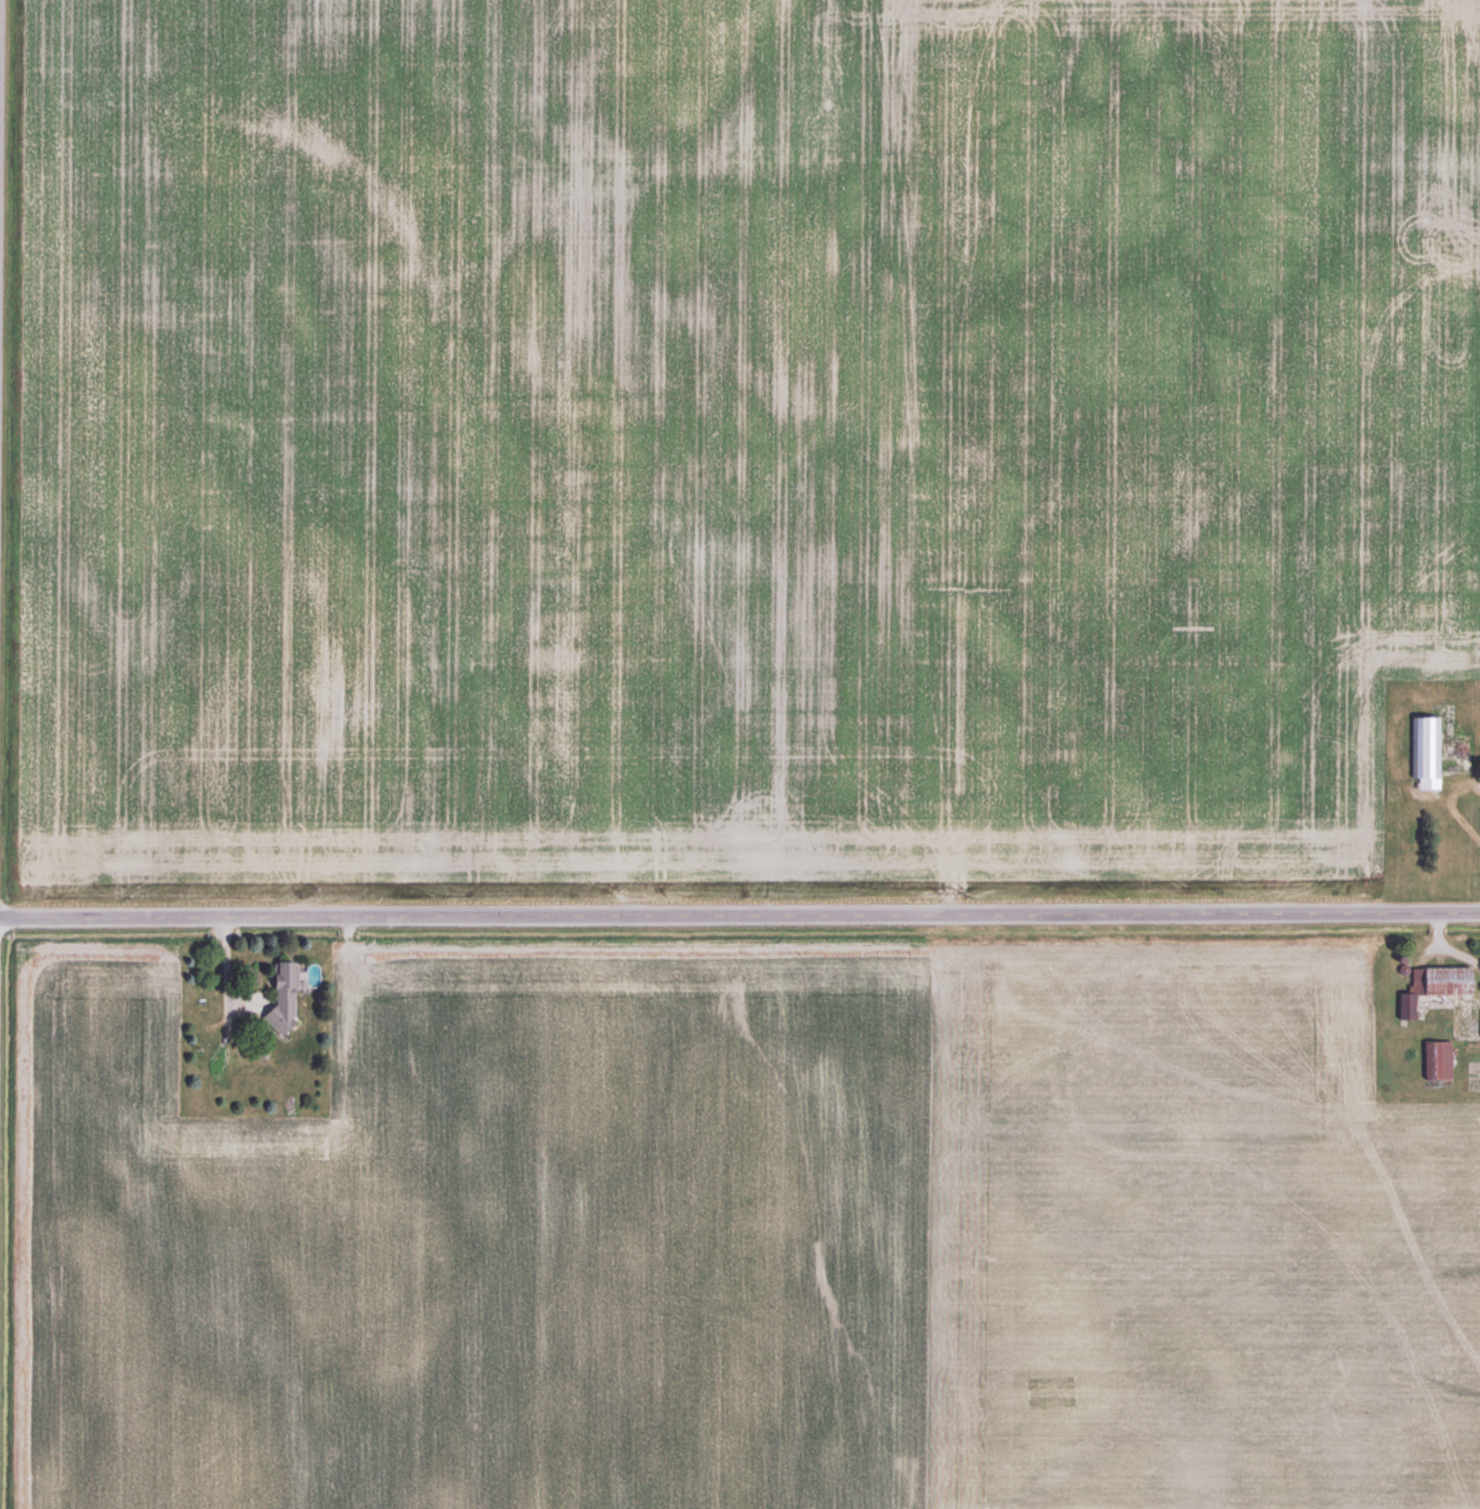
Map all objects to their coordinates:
building: (1423, 750)
road: (1445, 801)
road: (740, 917)
building: (1431, 985)
building: (280, 996)
building: (1479, 1022)
building: (1434, 1059)

